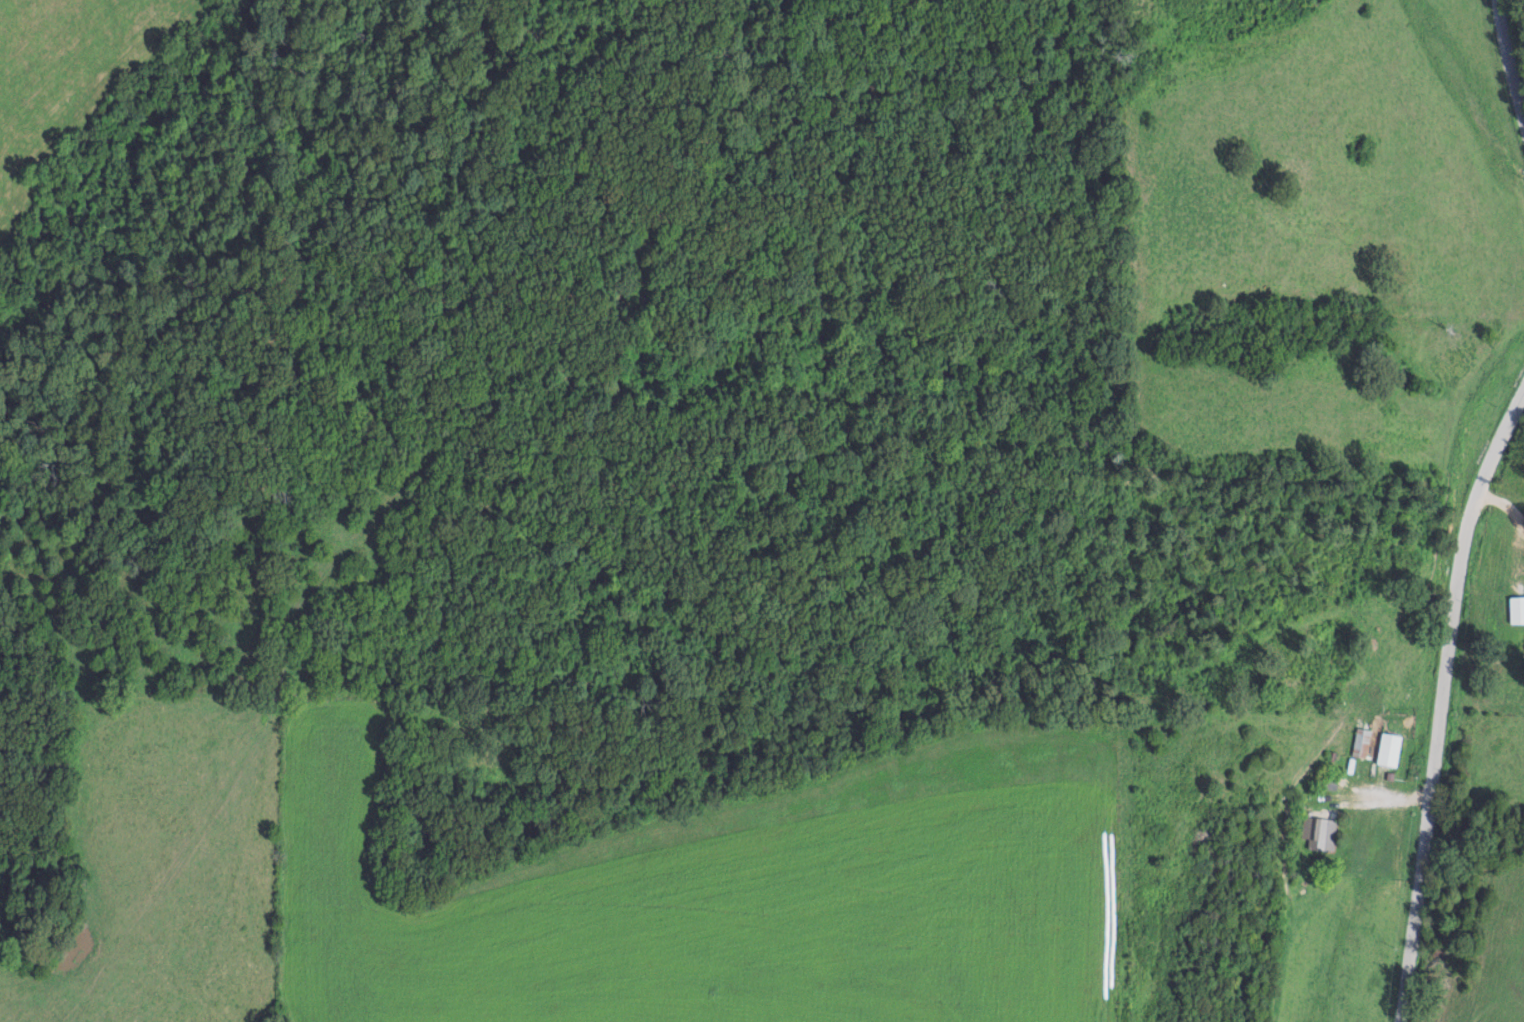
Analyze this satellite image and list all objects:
road: (1507, 61)
road: (1499, 501)
road: (1438, 690)
building: (1360, 743)
building: (1387, 750)
road: (1369, 793)

